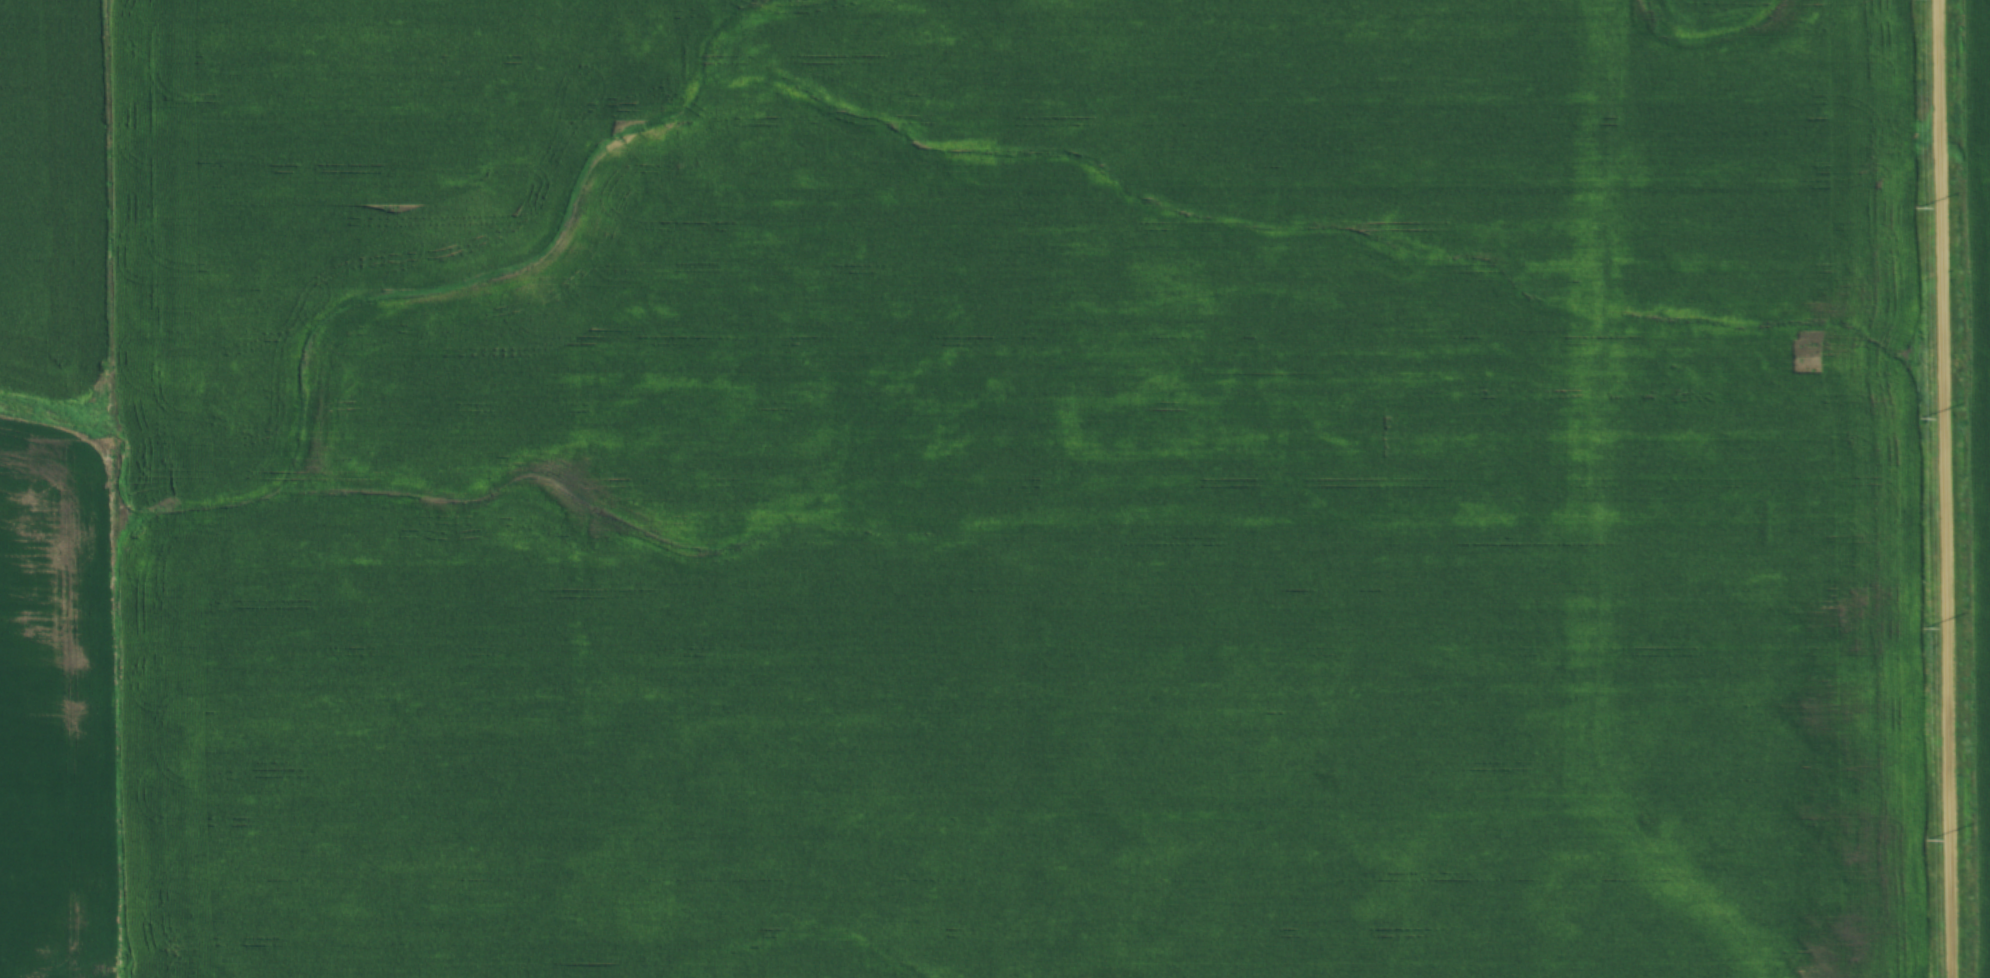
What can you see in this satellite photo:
road: (1943, 489)

